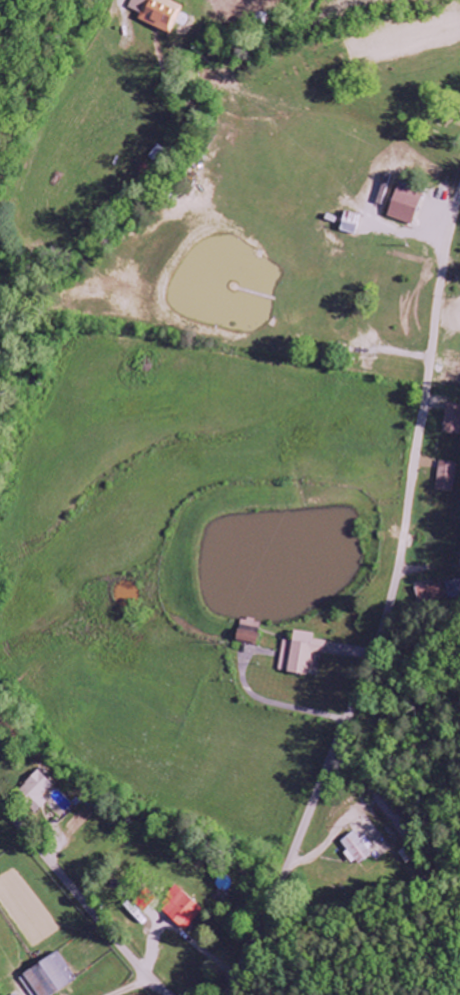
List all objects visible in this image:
building: (156, 13)
building: (403, 206)
building: (452, 420)
building: (446, 477)
building: (439, 593)
road: (389, 604)
building: (300, 652)
building: (35, 791)
building: (354, 848)
road: (82, 900)
building: (180, 909)
building: (48, 976)
park: (385, 993)
building: (22, 994)

